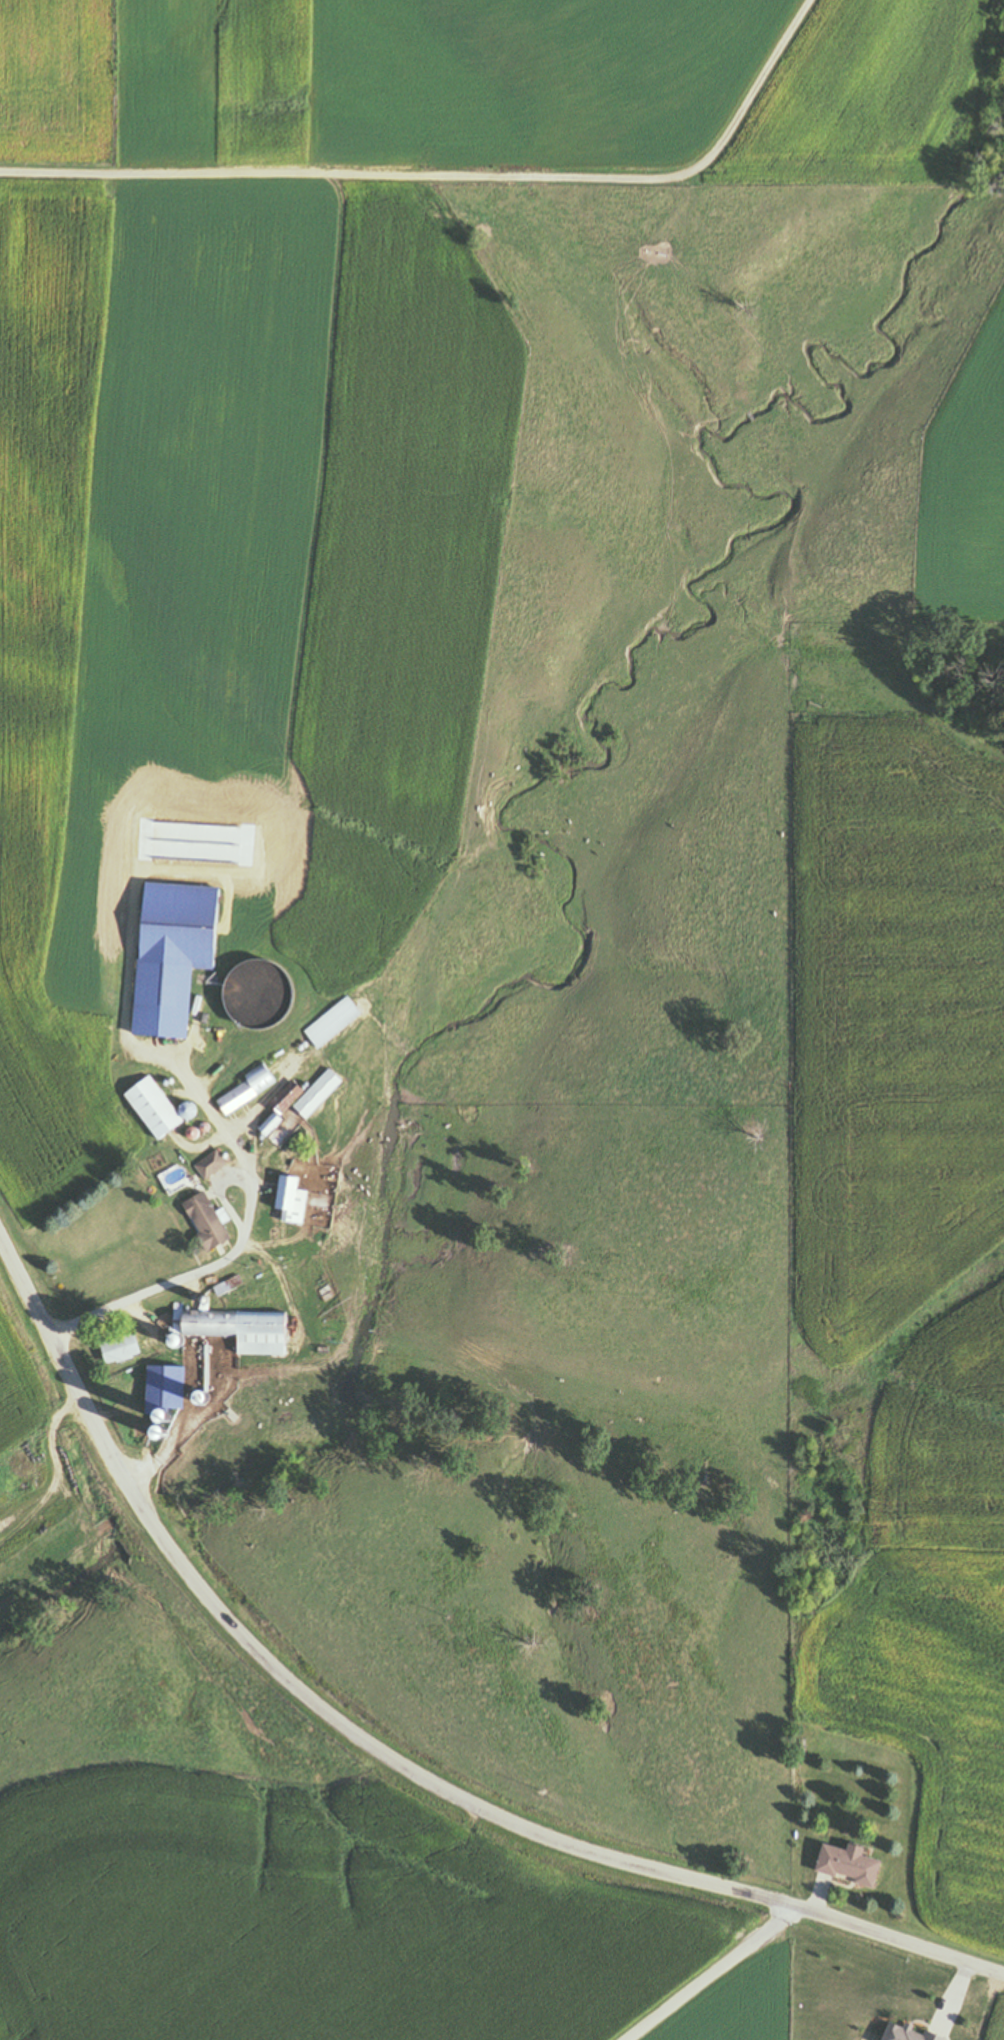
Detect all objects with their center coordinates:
road: (446, 174)
building: (340, 1021)
building: (165, 1026)
building: (324, 1093)
building: (241, 1098)
building: (160, 1108)
building: (281, 1128)
building: (214, 1165)
building: (299, 1198)
building: (212, 1221)
road: (244, 1241)
building: (243, 1330)
building: (124, 1349)
building: (171, 1388)
road: (386, 1759)
building: (854, 1863)
road: (717, 1978)
building: (911, 2033)

